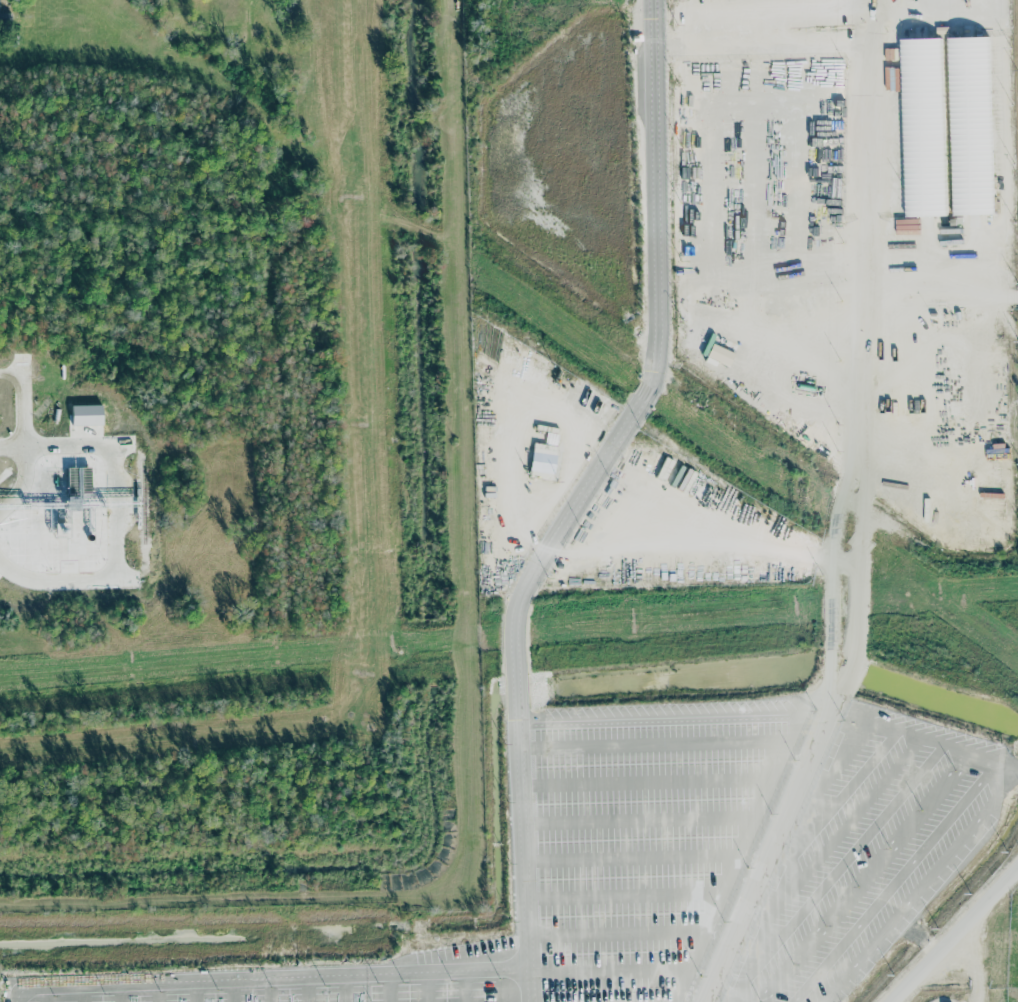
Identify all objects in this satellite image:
road: (295, 1)
building: (970, 126)
building: (922, 127)
road: (871, 217)
road: (653, 381)
road: (18, 411)
road: (672, 722)
road: (941, 746)
road: (782, 750)
road: (980, 759)
road: (836, 767)
road: (1006, 767)
road: (644, 784)
road: (821, 813)
road: (637, 821)
road: (522, 847)
road: (629, 860)
road: (835, 874)
road: (893, 883)
road: (924, 887)
road: (622, 897)
road: (615, 934)
road: (955, 935)
road: (608, 972)
road: (284, 977)
road: (466, 986)
road: (391, 987)
road: (430, 987)
road: (346, 988)
road: (308, 989)
road: (232, 990)
road: (270, 990)
road: (157, 991)
road: (194, 991)
road: (120, 992)
road: (46, 993)
road: (83, 993)

